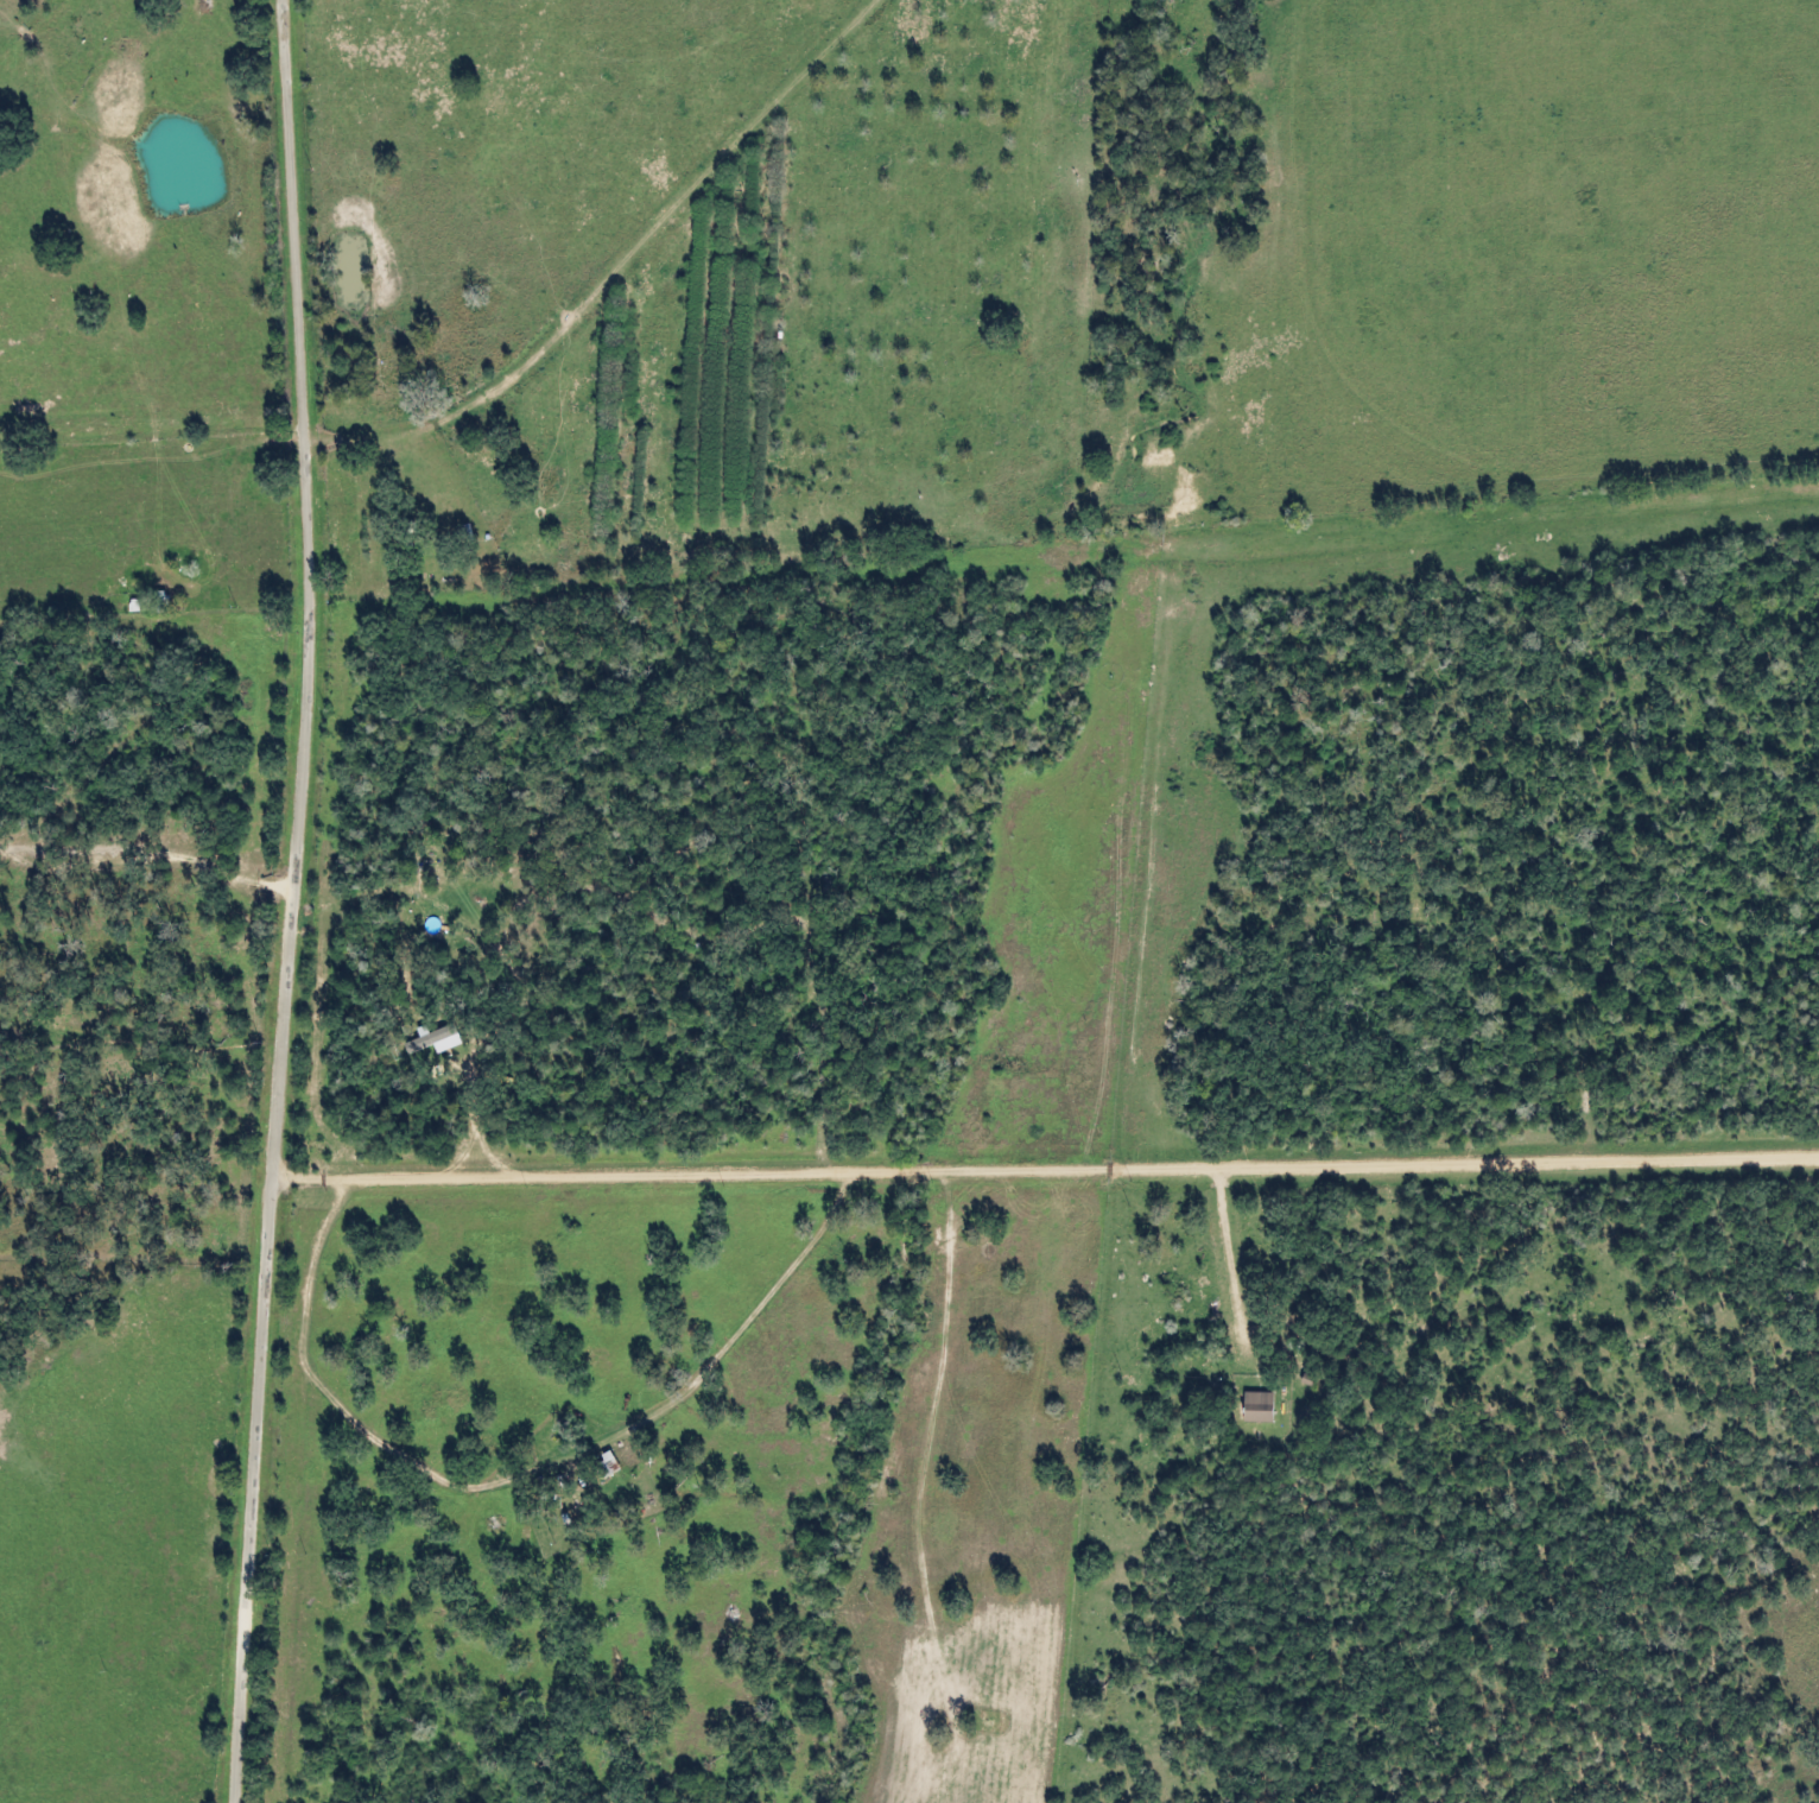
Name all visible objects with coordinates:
road: (298, 901)
building: (1255, 1406)
building: (606, 1463)

